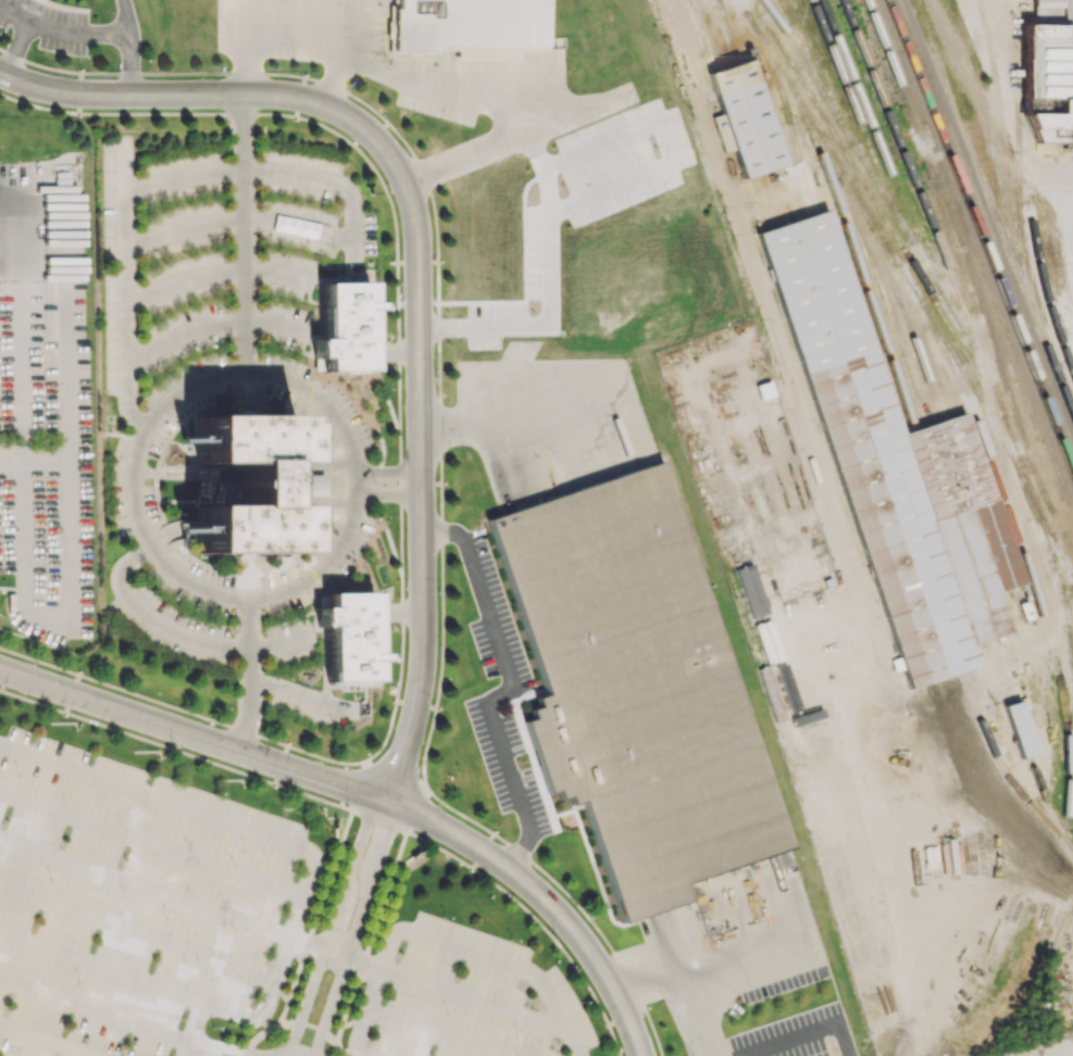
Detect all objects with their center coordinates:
railway: (786, 10)
building: (471, 28)
road: (98, 30)
railway: (726, 30)
railway: (714, 32)
railway: (707, 34)
railway: (796, 48)
railway: (822, 52)
road: (14, 59)
railway: (814, 74)
building: (1049, 74)
road: (337, 77)
road: (407, 78)
road: (997, 86)
railway: (783, 102)
railway: (756, 116)
building: (747, 117)
railway: (745, 120)
railway: (860, 121)
railway: (735, 123)
building: (721, 133)
railway: (857, 149)
railway: (799, 153)
railway: (864, 158)
road: (250, 167)
railway: (987, 167)
road: (1053, 172)
railway: (944, 180)
railway: (778, 181)
railway: (1019, 185)
railway: (770, 199)
railway: (760, 200)
railway: (902, 200)
railway: (991, 206)
railway: (840, 211)
railway: (986, 219)
road: (240, 231)
railway: (981, 235)
railway: (908, 252)
railway: (980, 255)
railway: (866, 256)
road: (420, 271)
railway: (887, 271)
railway: (974, 276)
road: (550, 281)
railway: (906, 285)
railway: (1044, 289)
building: (345, 326)
railway: (972, 329)
road: (242, 372)
railway: (965, 375)
road: (511, 407)
railway: (929, 414)
building: (894, 467)
road: (389, 472)
building: (249, 486)
road: (389, 495)
railway: (971, 503)
railway: (1068, 540)
railway: (1057, 541)
railway: (1062, 552)
railway: (1024, 554)
railway: (1063, 584)
building: (751, 590)
railway: (1036, 612)
railway: (1012, 624)
road: (174, 631)
railway: (1071, 633)
building: (349, 636)
building: (768, 641)
railway: (1039, 651)
railway: (1002, 672)
road: (246, 675)
building: (637, 683)
road: (509, 690)
building: (1020, 728)
railway: (1021, 729)
road: (194, 736)
building: (889, 737)
railway: (1005, 772)
building: (971, 788)
railway: (1048, 802)
road: (151, 839)
road: (483, 848)
road: (885, 871)
road: (161, 890)
railway: (1038, 891)
road: (544, 898)
parking lot: (127, 903)
road: (298, 906)
railway: (1043, 918)
railway: (1053, 918)
road: (332, 925)
road: (137, 929)
road: (353, 929)
road: (442, 941)
road: (562, 947)
road: (334, 950)
road: (678, 978)
road: (456, 992)
road: (98, 1010)
road: (191, 1027)
road: (799, 1032)
road: (432, 1033)
road: (45, 1041)
road: (232, 1048)
road: (292, 1048)
road: (205, 1049)
power substation: (1028, 1051)

